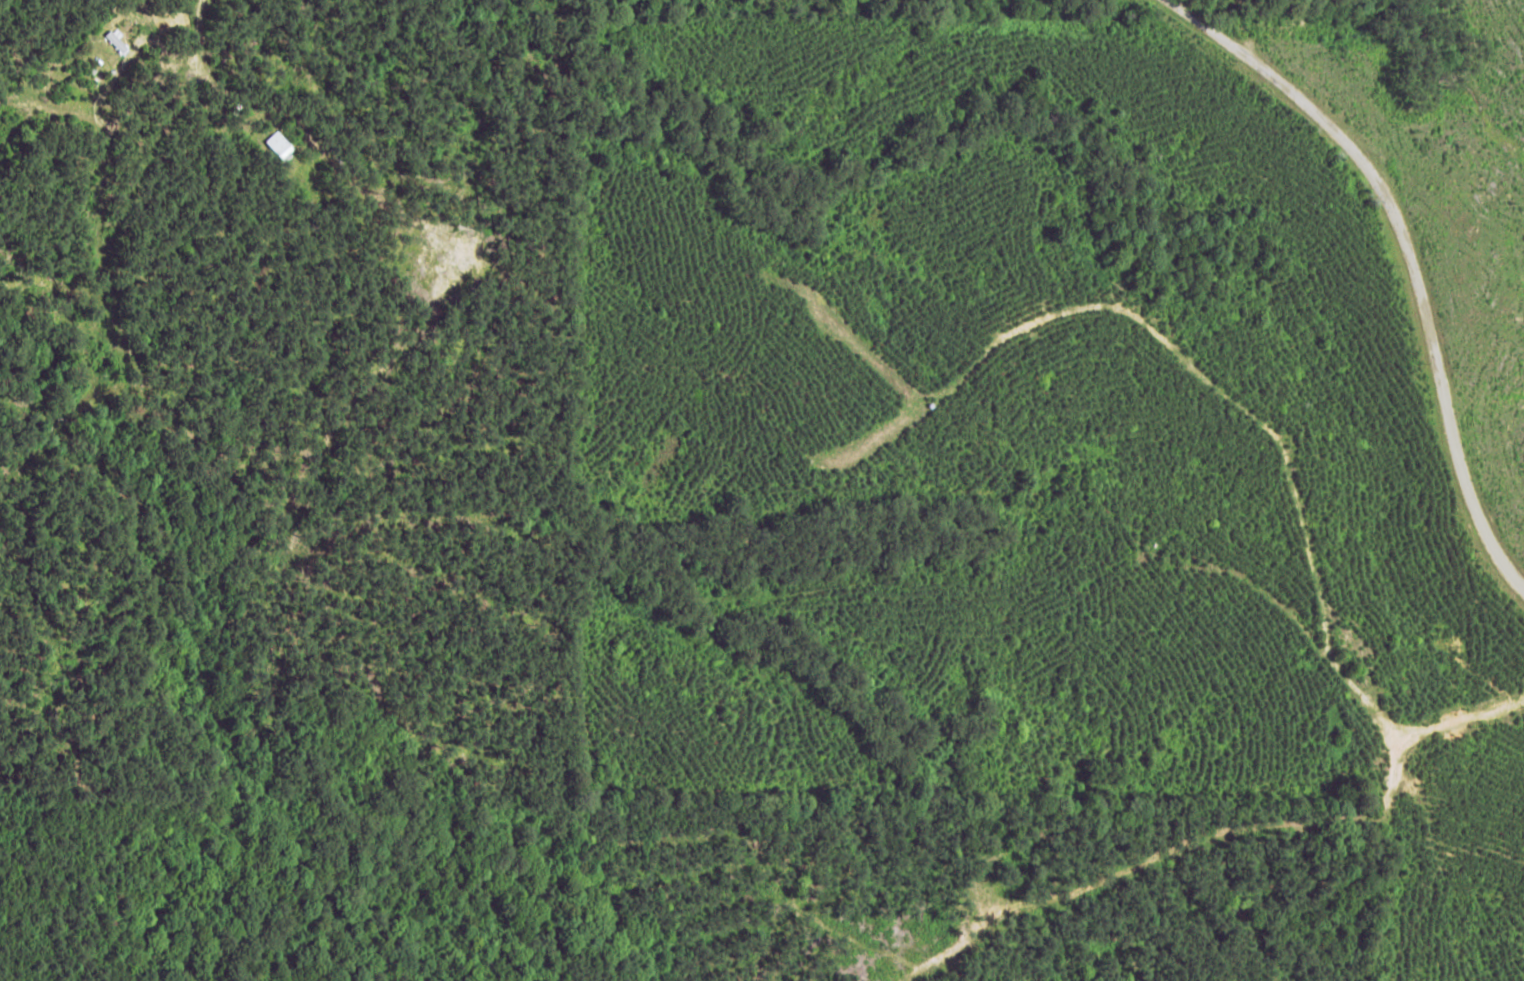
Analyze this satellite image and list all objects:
road: (1391, 248)

